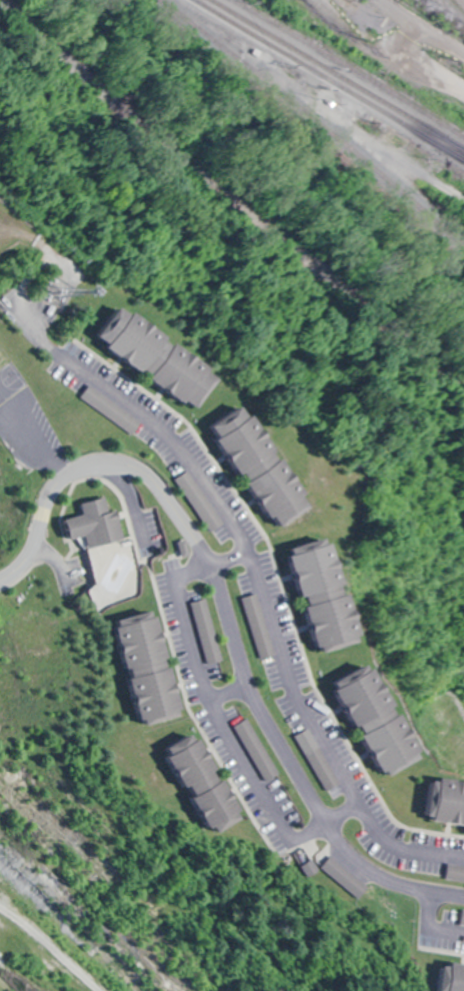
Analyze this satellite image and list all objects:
railway: (461, 2)
road: (393, 43)
railway: (350, 67)
railway: (339, 73)
railway: (331, 78)
railway: (313, 120)
building: (161, 356)
building: (115, 412)
building: (265, 465)
building: (199, 500)
road: (139, 514)
building: (97, 523)
road: (243, 548)
road: (58, 559)
building: (331, 597)
road: (223, 623)
building: (258, 626)
building: (153, 668)
road: (227, 693)
road: (222, 717)
building: (383, 720)
building: (256, 750)
building: (319, 763)
building: (209, 783)
building: (445, 802)
building: (455, 874)
building: (346, 877)
road: (423, 934)
road: (55, 943)
building: (455, 979)

